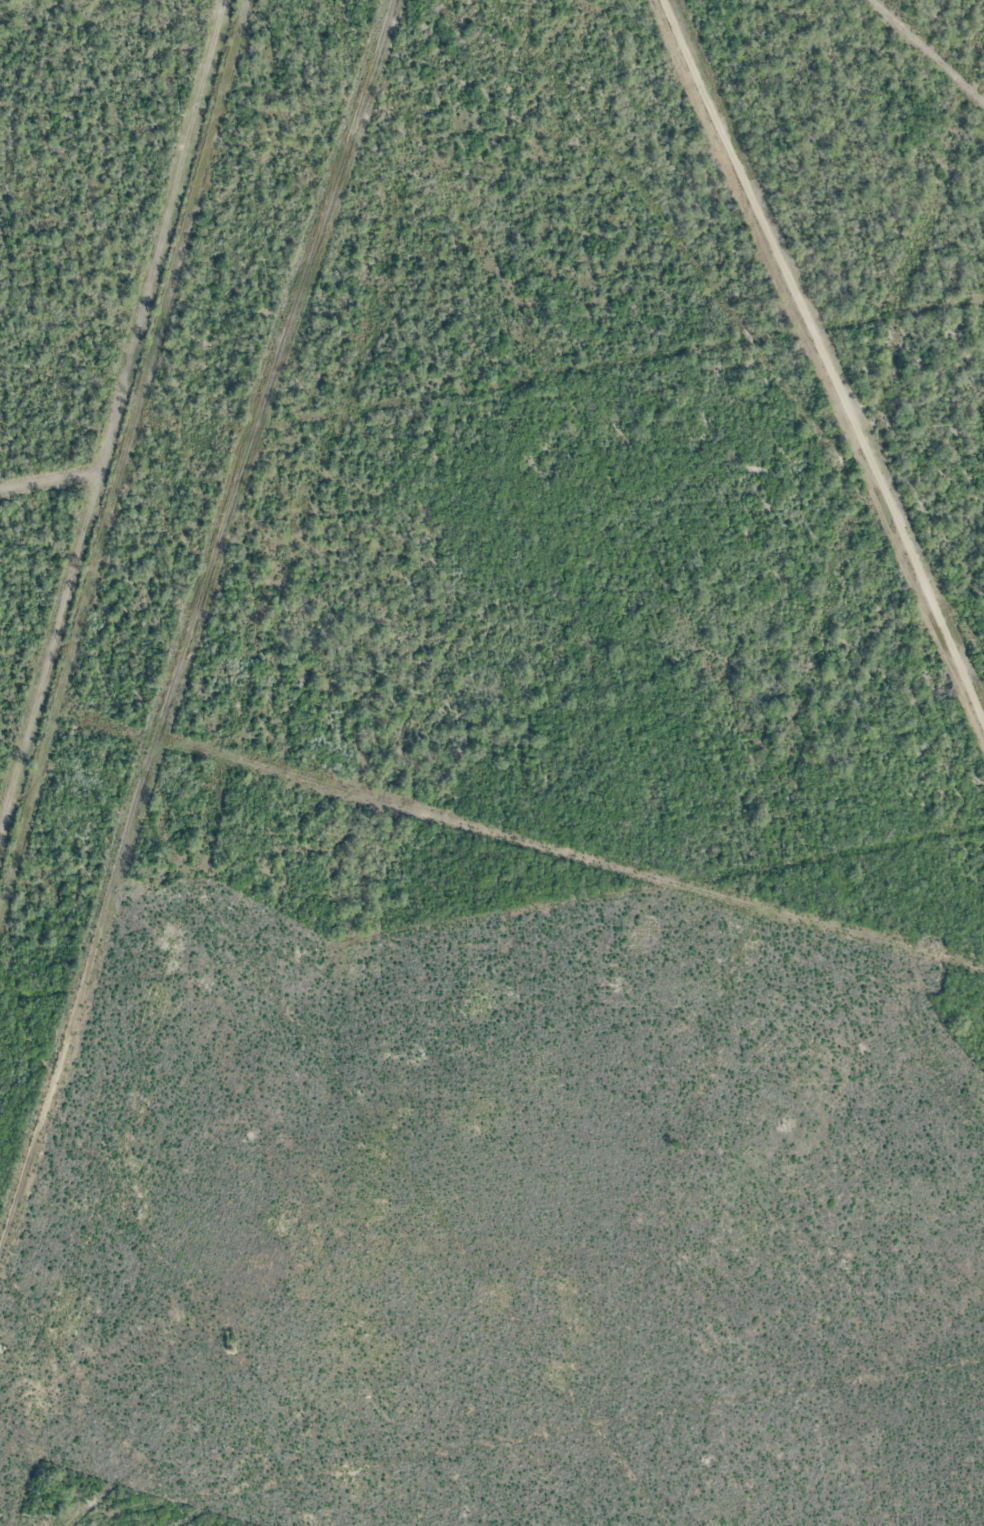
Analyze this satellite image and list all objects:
road: (663, 8)
road: (825, 371)

